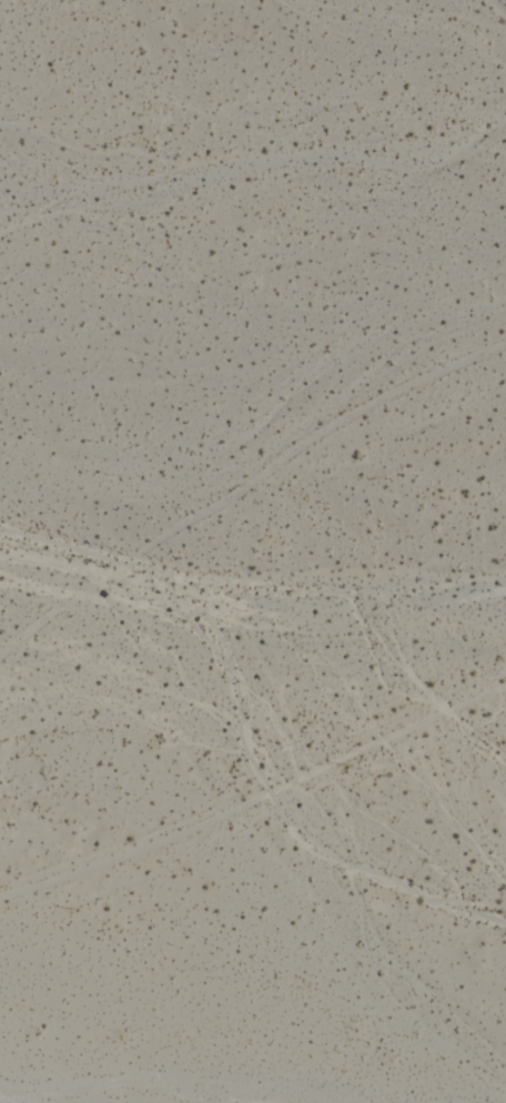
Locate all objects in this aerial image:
road: (255, 793)

